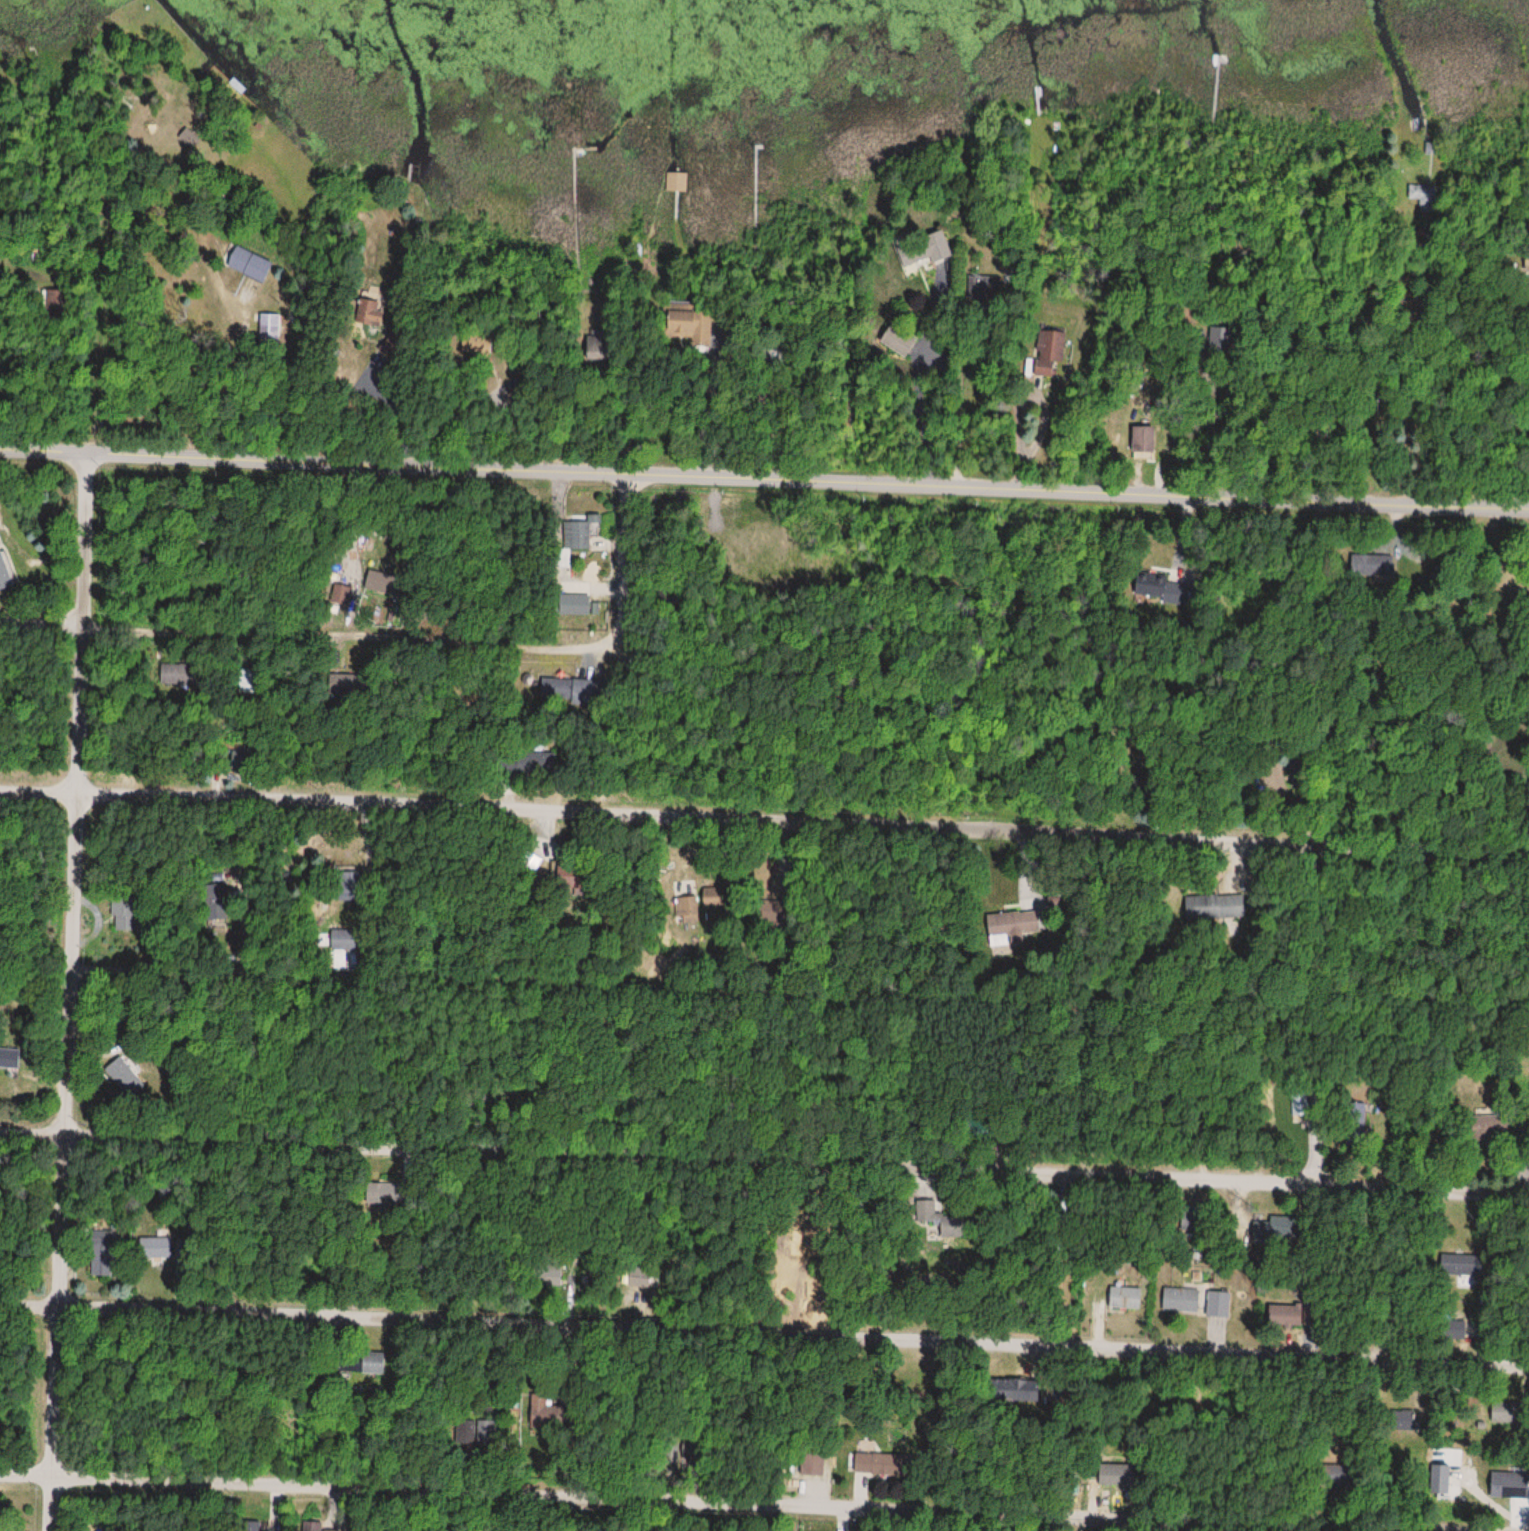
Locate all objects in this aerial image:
road: (154, 167)
building: (675, 181)
building: (922, 251)
building: (247, 263)
building: (366, 313)
building: (678, 318)
building: (269, 326)
building: (897, 340)
building: (1049, 352)
road: (1398, 353)
road: (924, 411)
road: (996, 414)
road: (198, 419)
road: (1510, 433)
road: (1113, 437)
building: (1140, 439)
road: (764, 483)
building: (583, 533)
building: (0, 541)
road: (621, 563)
building: (6, 571)
building: (341, 594)
building: (571, 604)
road: (307, 636)
building: (175, 673)
road: (764, 822)
building: (532, 863)
building: (221, 892)
building: (686, 907)
building: (1214, 907)
building: (1005, 928)
road: (475, 986)
road: (71, 995)
building: (9, 1058)
building: (119, 1073)
road: (872, 1085)
building: (1355, 1119)
building: (1487, 1127)
road: (764, 1161)
building: (394, 1192)
building: (1188, 1217)
building: (156, 1247)
building: (1461, 1265)
building: (1123, 1298)
building: (1178, 1299)
building: (1214, 1300)
building: (1283, 1315)
road: (764, 1331)
building: (370, 1362)
building: (1503, 1413)
building: (1403, 1421)
building: (470, 1433)
building: (883, 1464)
building: (1115, 1475)
building: (1506, 1485)
road: (764, 1500)
building: (1, 1529)

